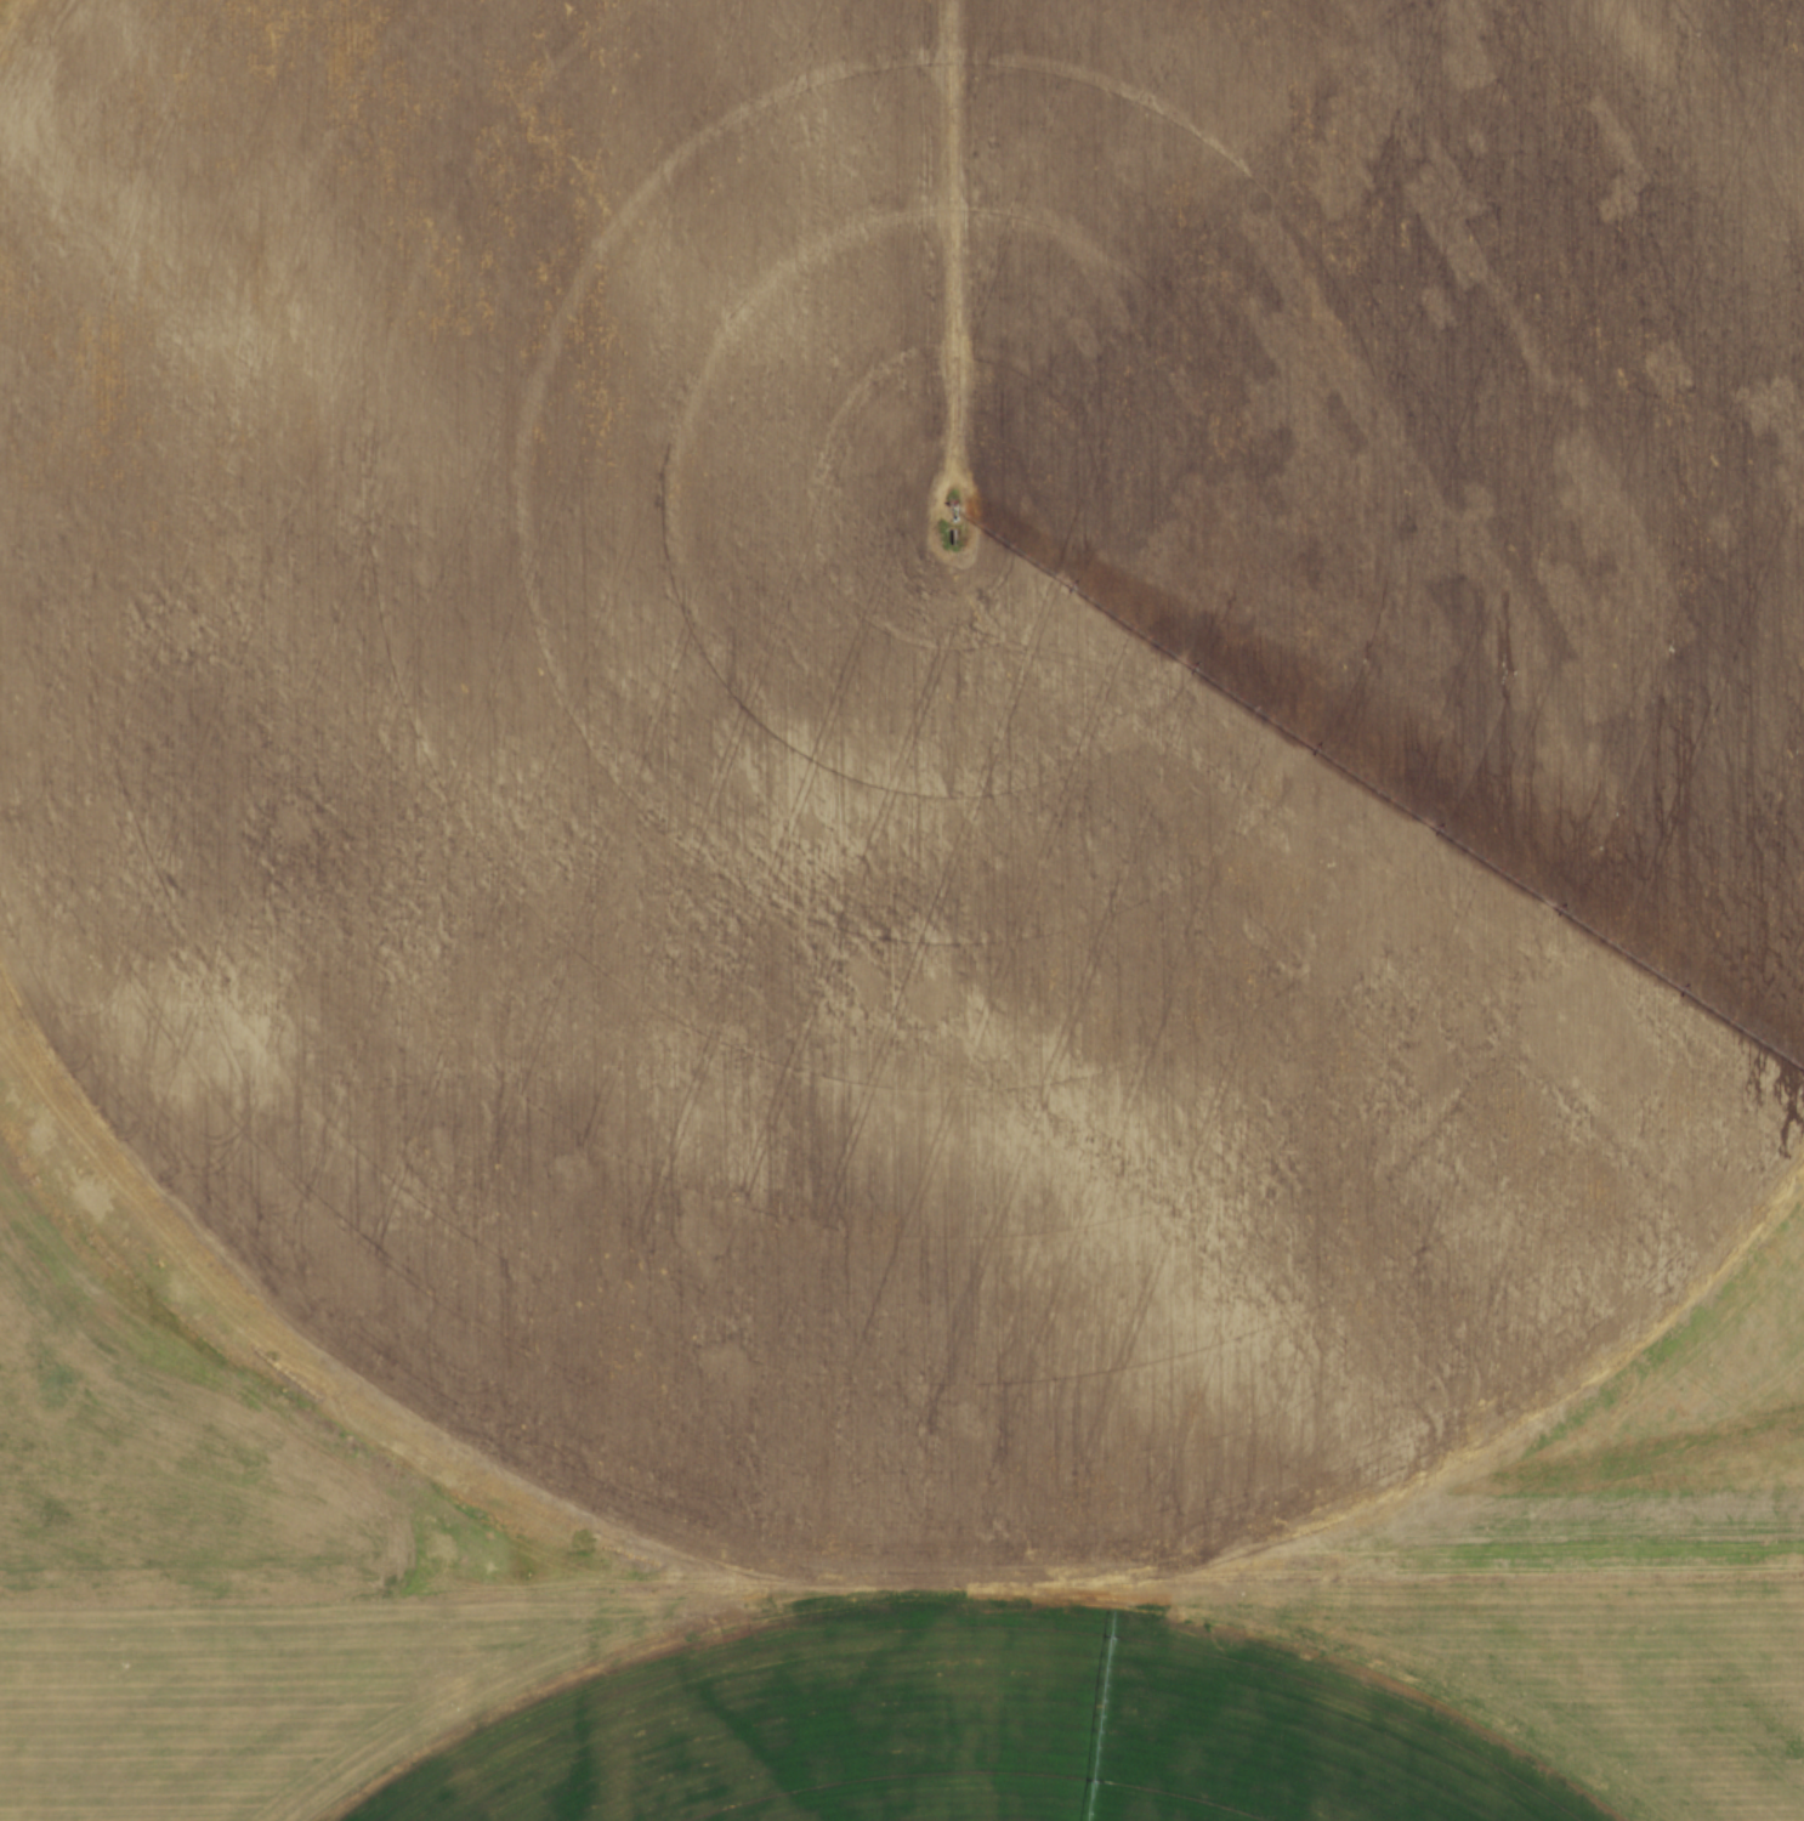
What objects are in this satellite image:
crop: (910, 901)

